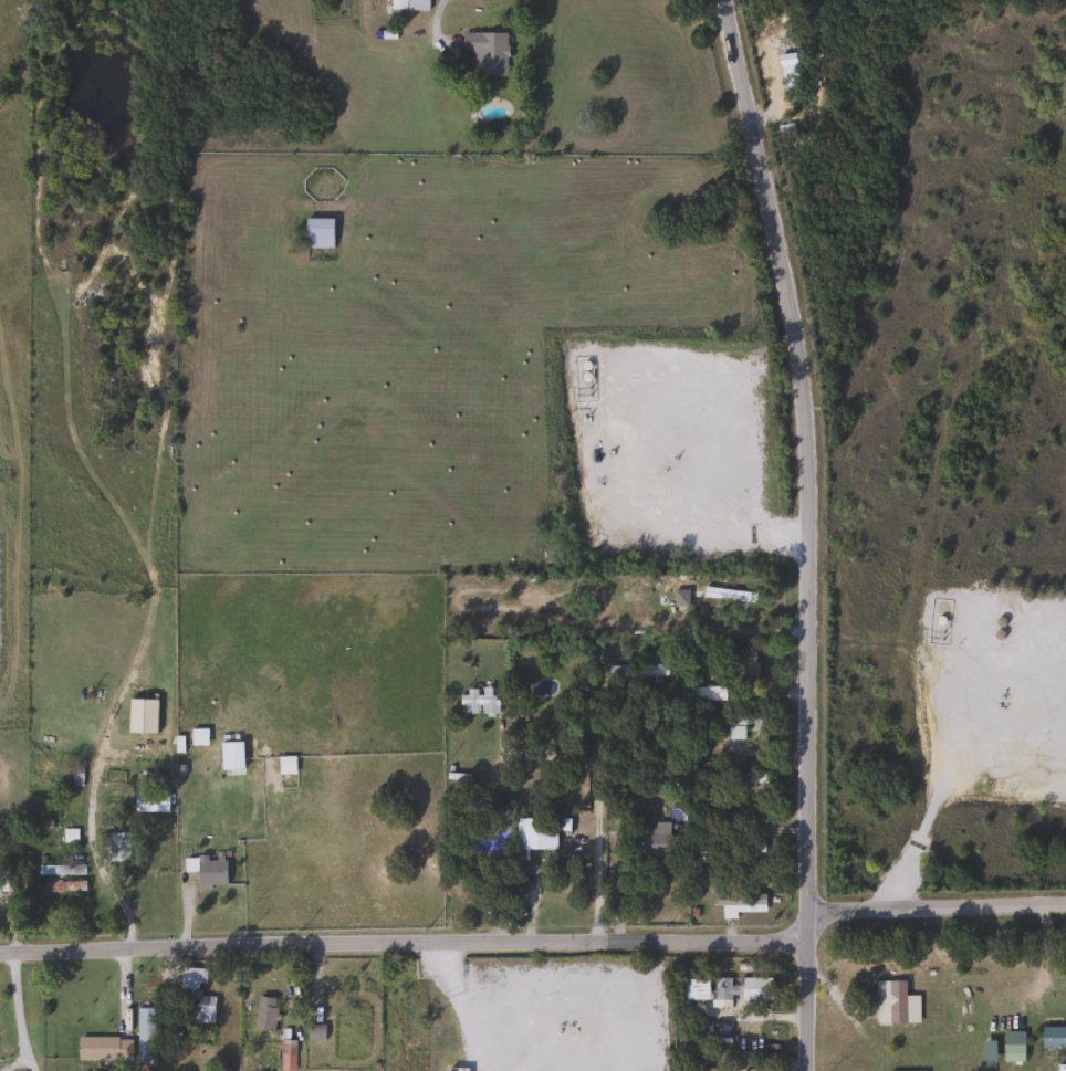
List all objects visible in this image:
building: (408, 4)
road: (709, 11)
road: (433, 22)
building: (485, 53)
building: (317, 233)
road: (937, 482)
road: (809, 531)
building: (688, 588)
building: (745, 666)
building: (636, 671)
building: (479, 704)
building: (745, 721)
building: (199, 737)
building: (286, 765)
building: (150, 801)
road: (931, 813)
road: (88, 817)
building: (542, 833)
building: (658, 833)
road: (597, 842)
building: (117, 847)
building: (740, 848)
building: (207, 870)
building: (63, 886)
building: (738, 903)
road: (938, 903)
road: (405, 936)
building: (742, 988)
building: (693, 989)
building: (195, 996)
building: (893, 1004)
road: (17, 1010)
building: (264, 1015)
building: (412, 1037)
building: (1053, 1038)
building: (103, 1049)
building: (1012, 1053)
building: (288, 1056)
road: (12, 1061)

